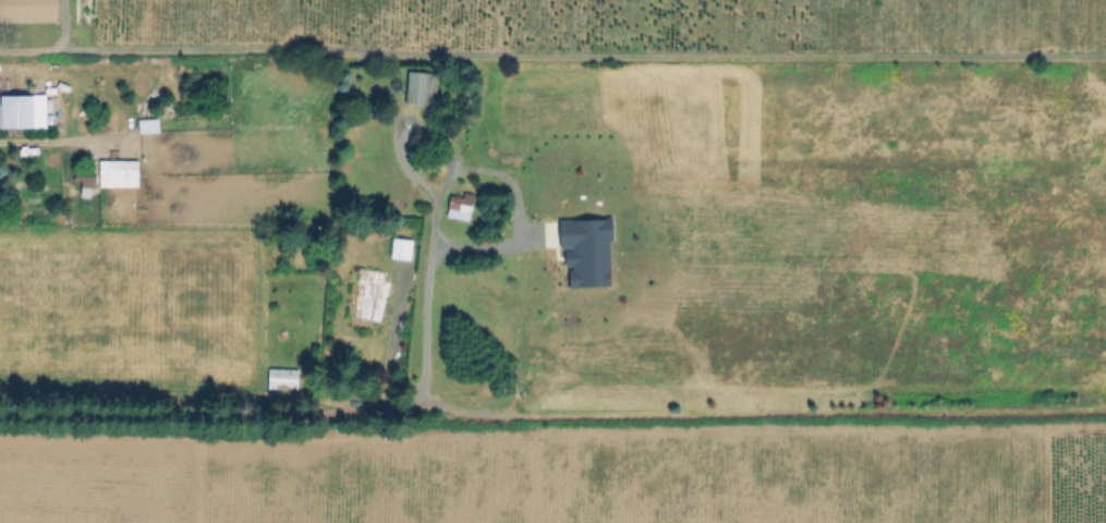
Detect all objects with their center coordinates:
building: (28, 11)
road: (97, 45)
building: (422, 87)
building: (17, 111)
building: (148, 120)
road: (40, 143)
building: (120, 170)
building: (461, 207)
building: (587, 242)
building: (403, 247)
building: (368, 296)
road: (382, 340)
building: (284, 378)
road: (335, 405)

